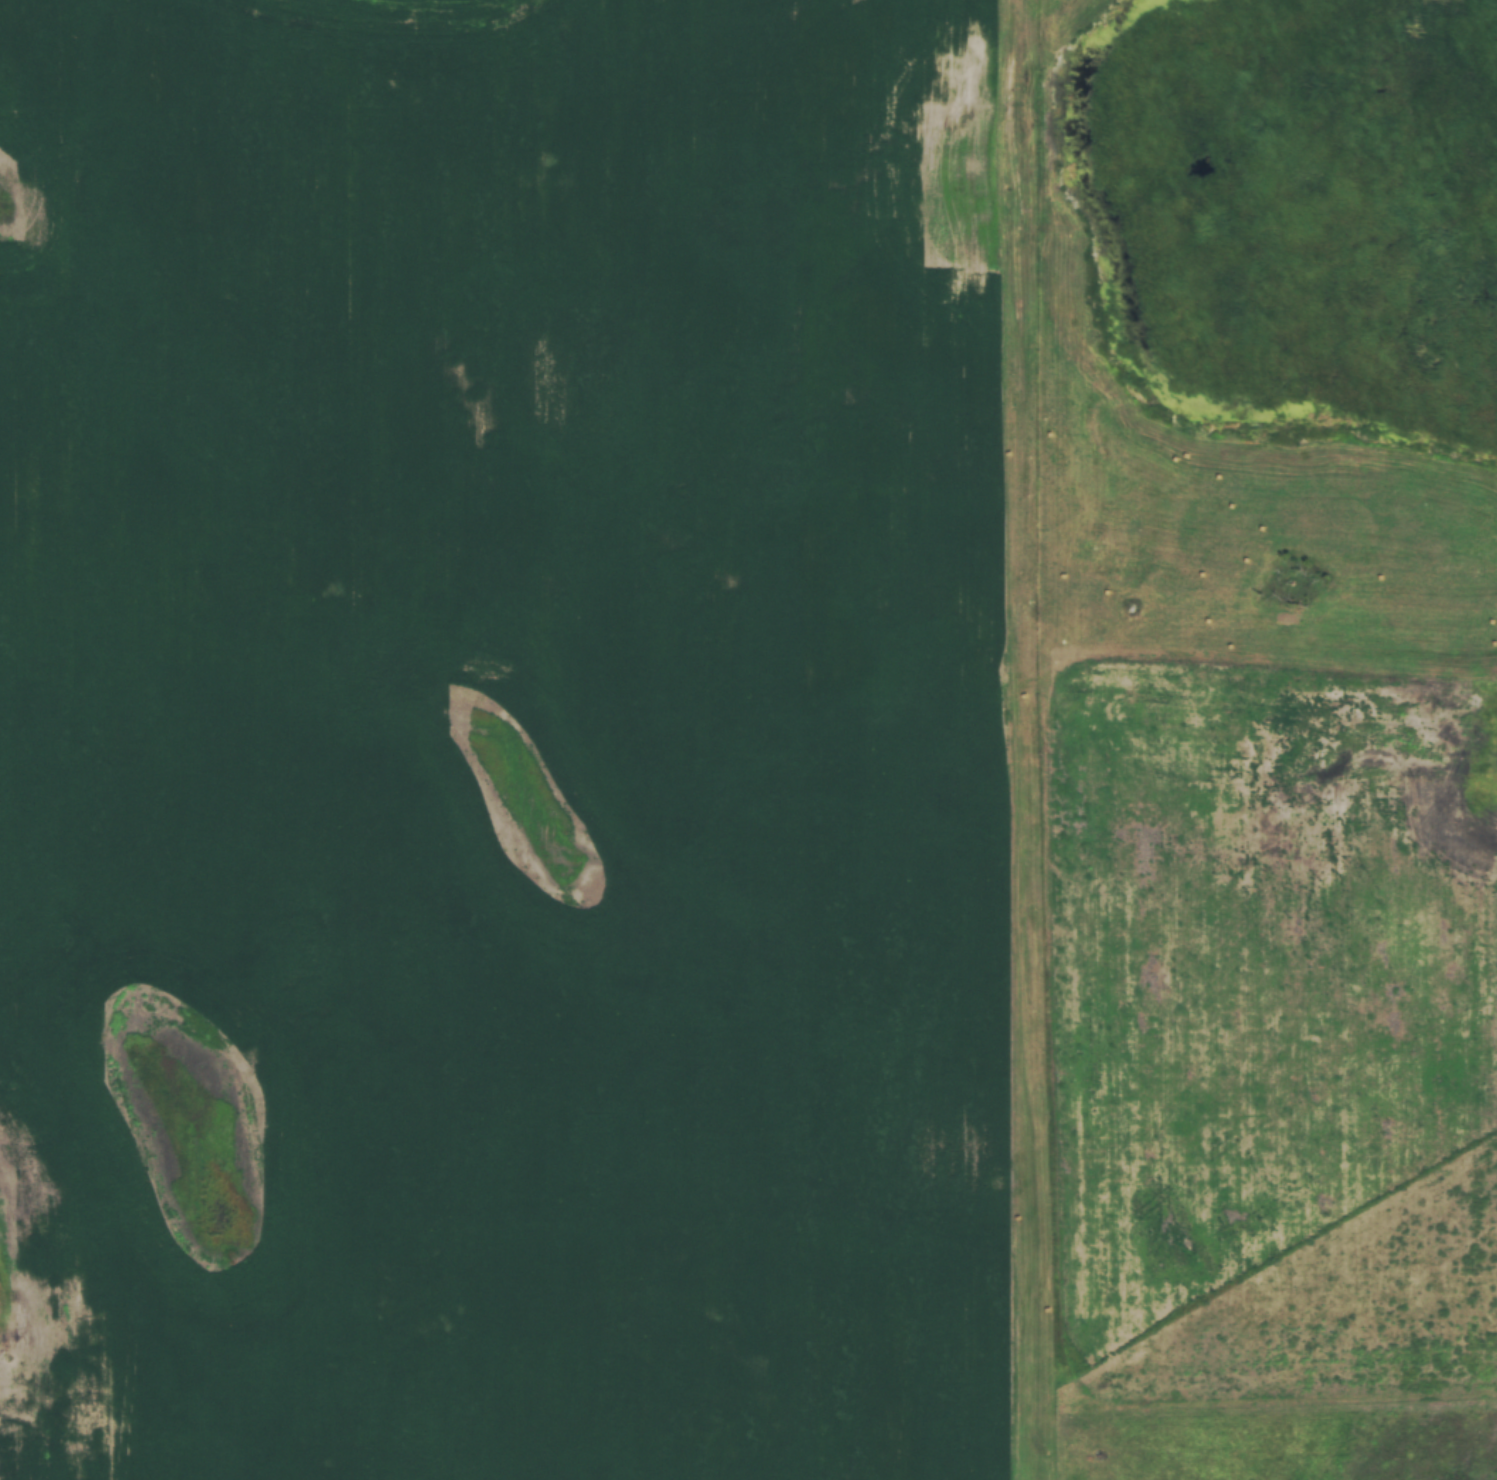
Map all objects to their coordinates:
road: (1038, 739)

